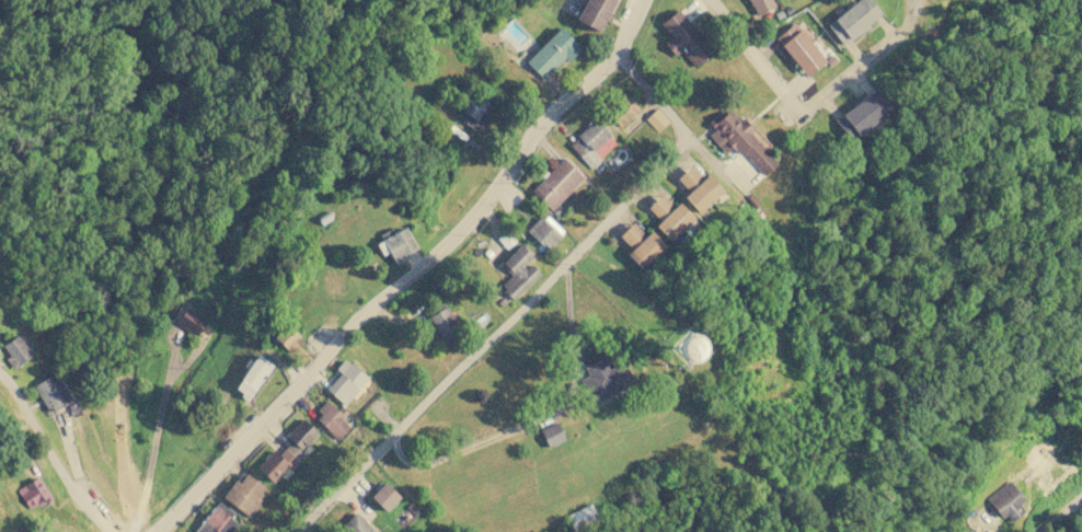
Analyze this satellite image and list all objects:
building: (760, 5)
building: (595, 12)
building: (853, 20)
building: (683, 39)
building: (799, 49)
building: (553, 53)
road: (651, 96)
road: (793, 107)
building: (474, 111)
building: (622, 111)
building: (862, 115)
building: (656, 119)
building: (739, 140)
building: (592, 142)
building: (556, 184)
building: (698, 188)
building: (669, 217)
building: (544, 231)
building: (396, 244)
building: (641, 245)
building: (518, 271)
road: (412, 276)
building: (332, 282)
building: (441, 320)
building: (191, 321)
building: (287, 337)
road: (492, 338)
building: (684, 349)
building: (15, 351)
building: (253, 377)
building: (605, 380)
building: (346, 382)
building: (51, 393)
building: (332, 418)
building: (552, 435)
building: (287, 452)
road: (49, 455)
building: (33, 493)
building: (245, 494)
building: (384, 496)
building: (1006, 501)
road: (1060, 514)
building: (582, 517)
building: (217, 519)
building: (356, 524)

